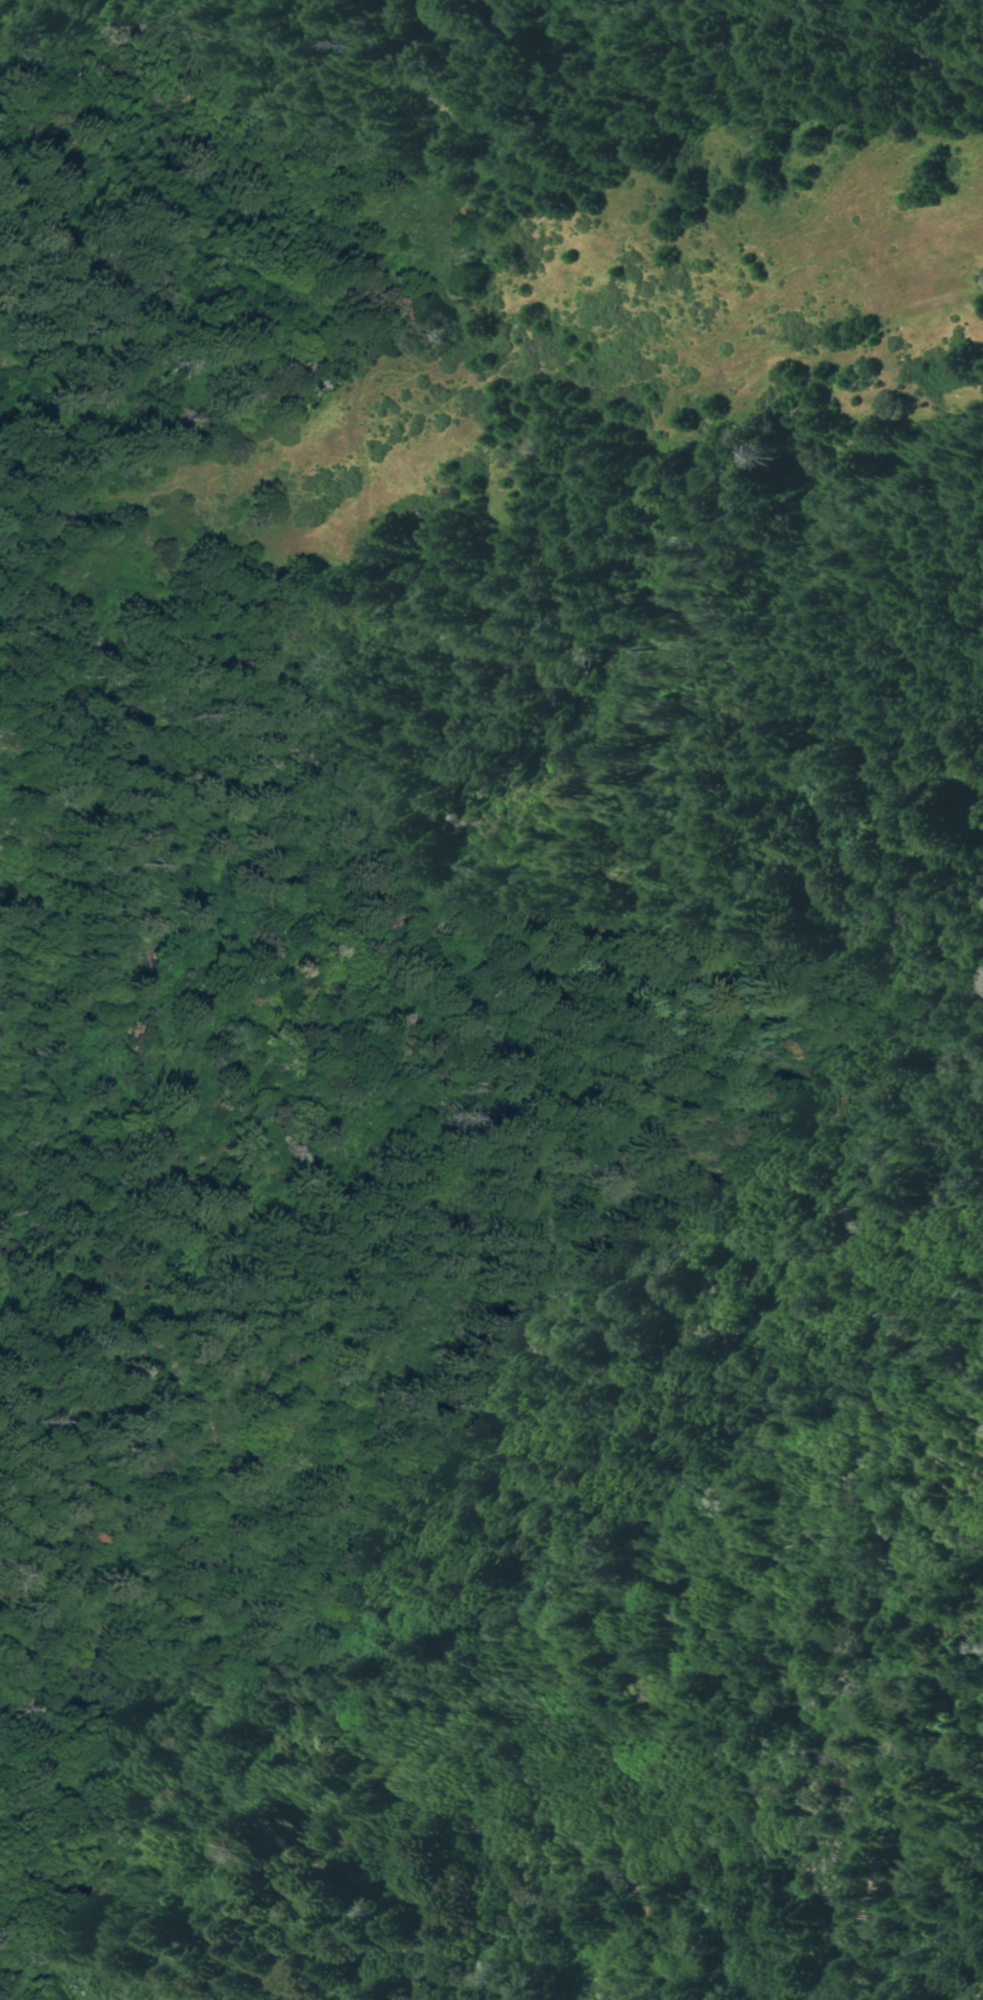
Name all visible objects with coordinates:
road: (469, 375)
road: (872, 1828)
road: (611, 1929)

